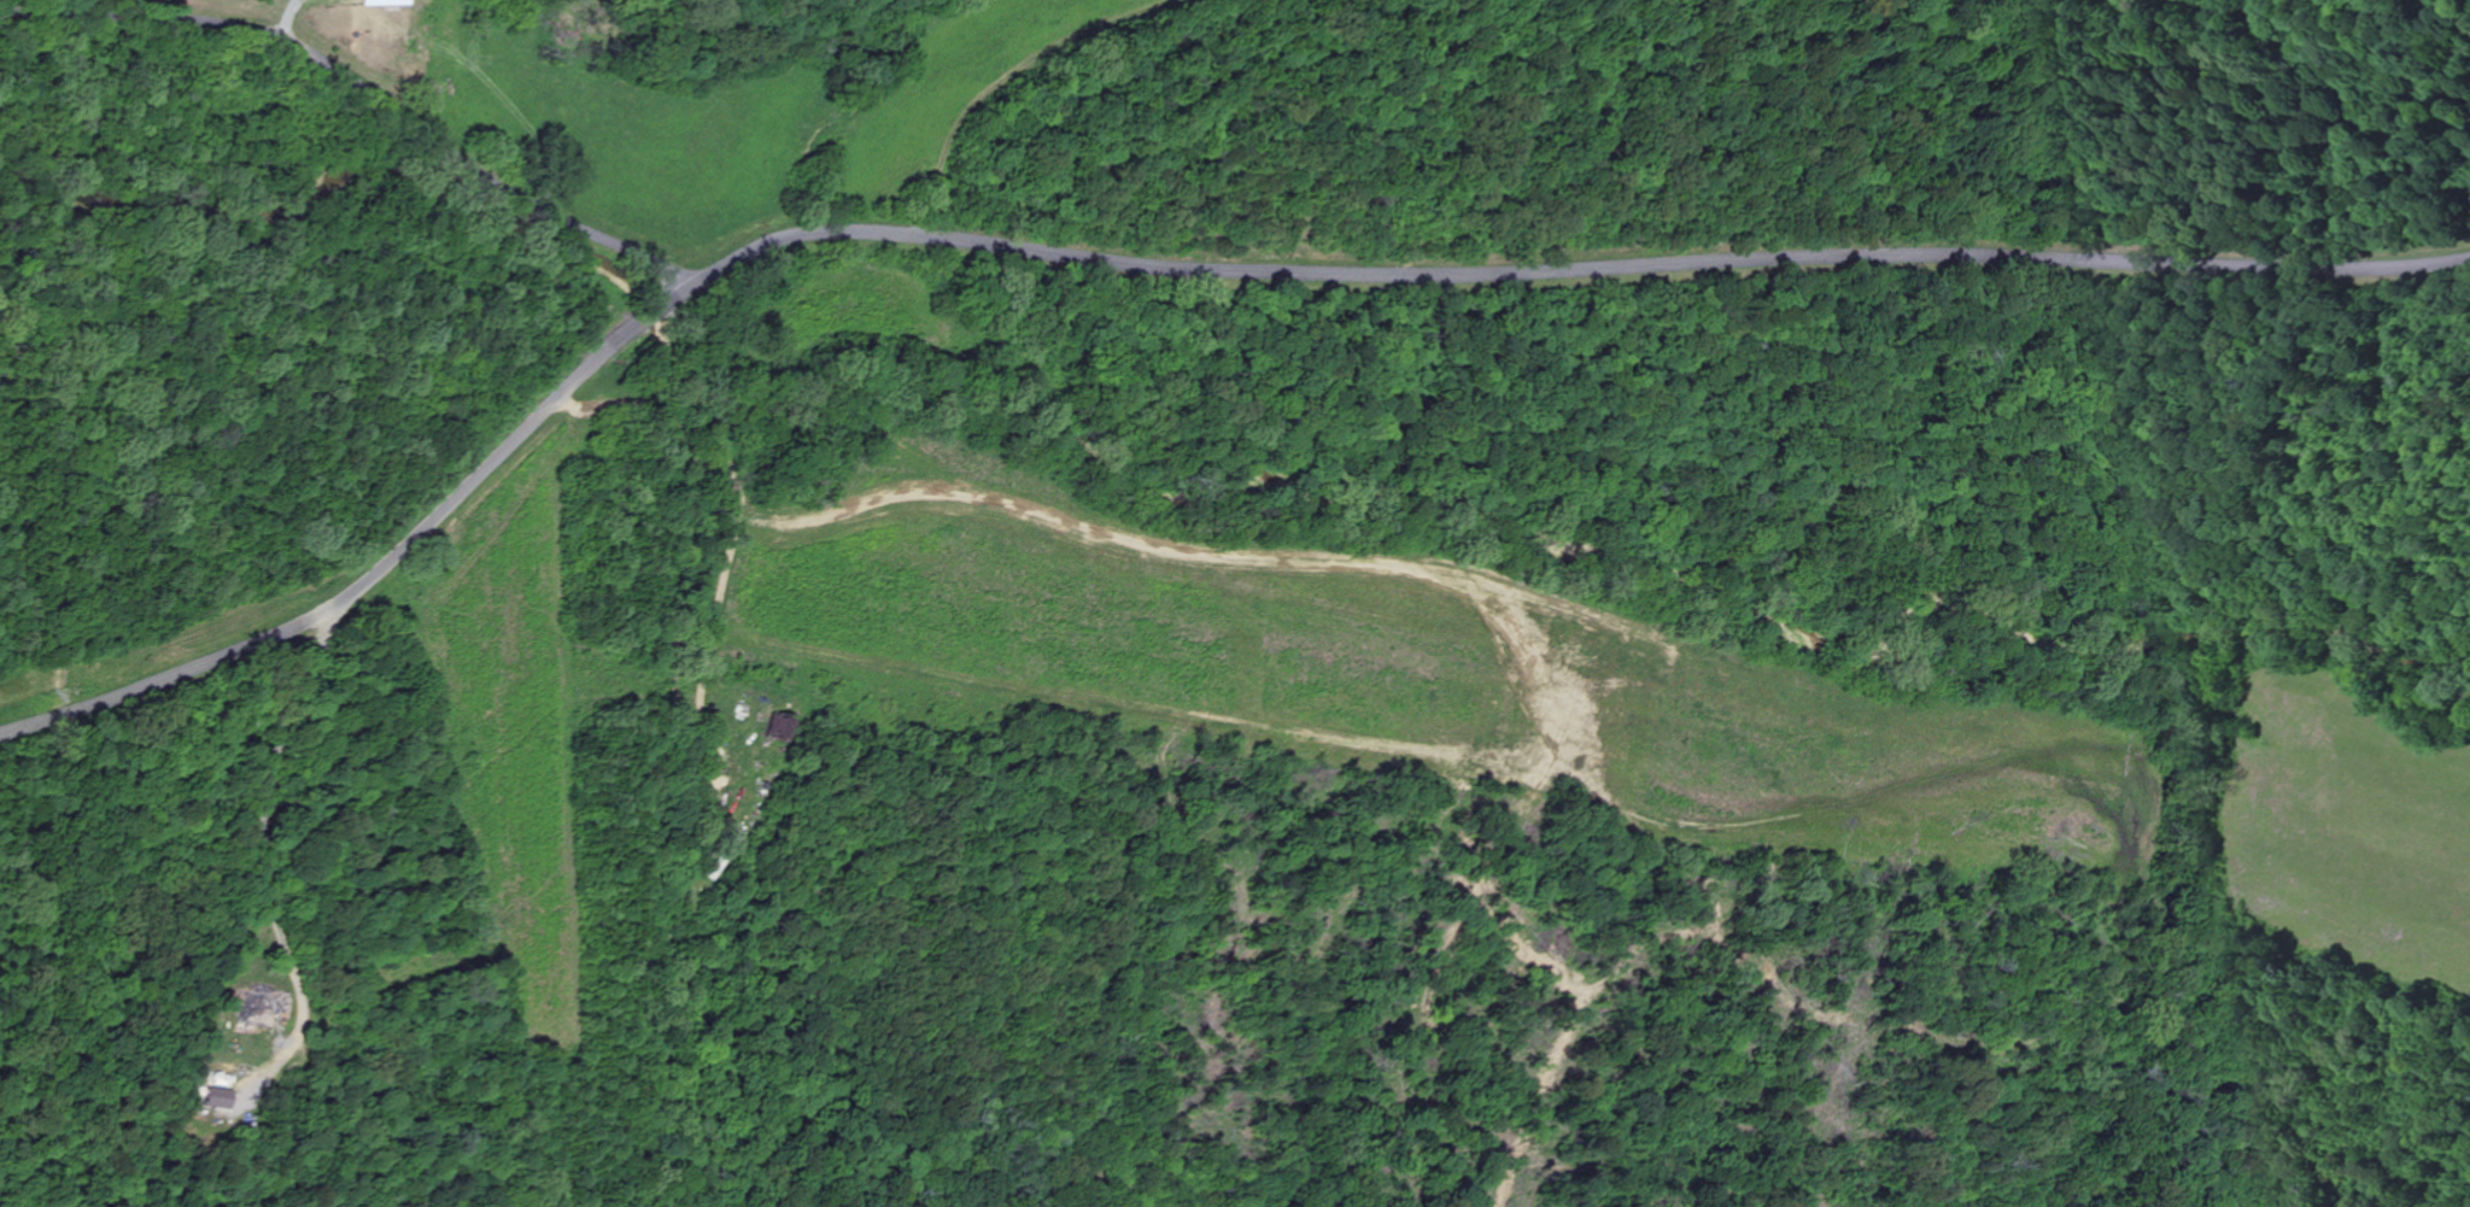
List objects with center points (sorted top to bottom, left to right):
building: (379, 2)
road: (362, 93)
road: (1153, 268)
road: (603, 693)
building: (222, 1097)

